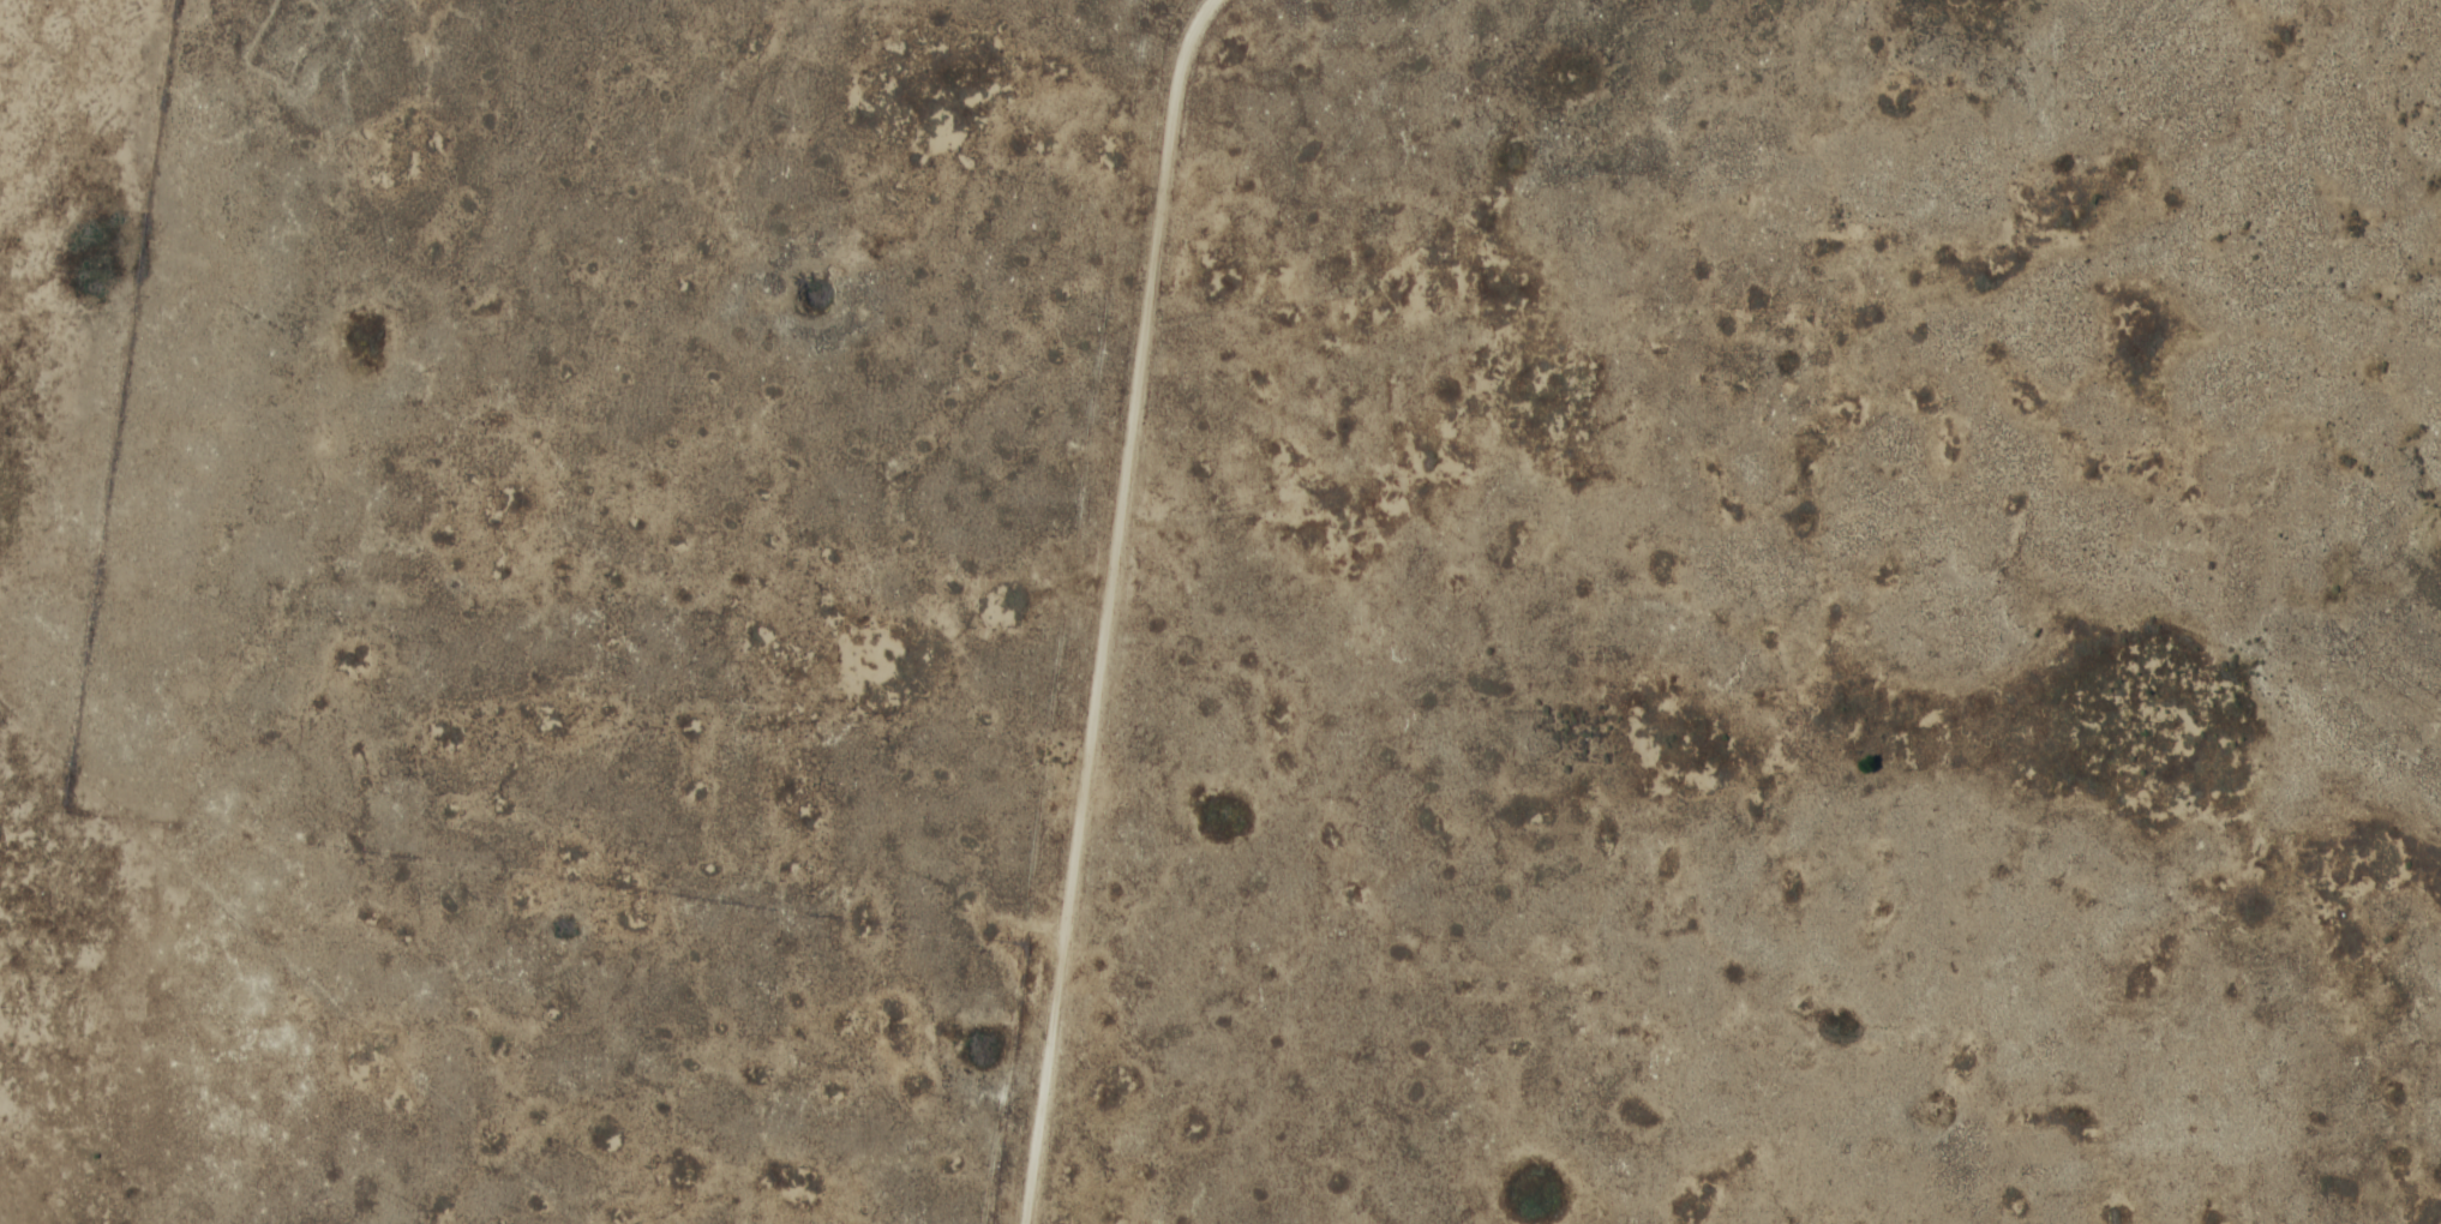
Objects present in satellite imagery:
road: (1094, 608)

